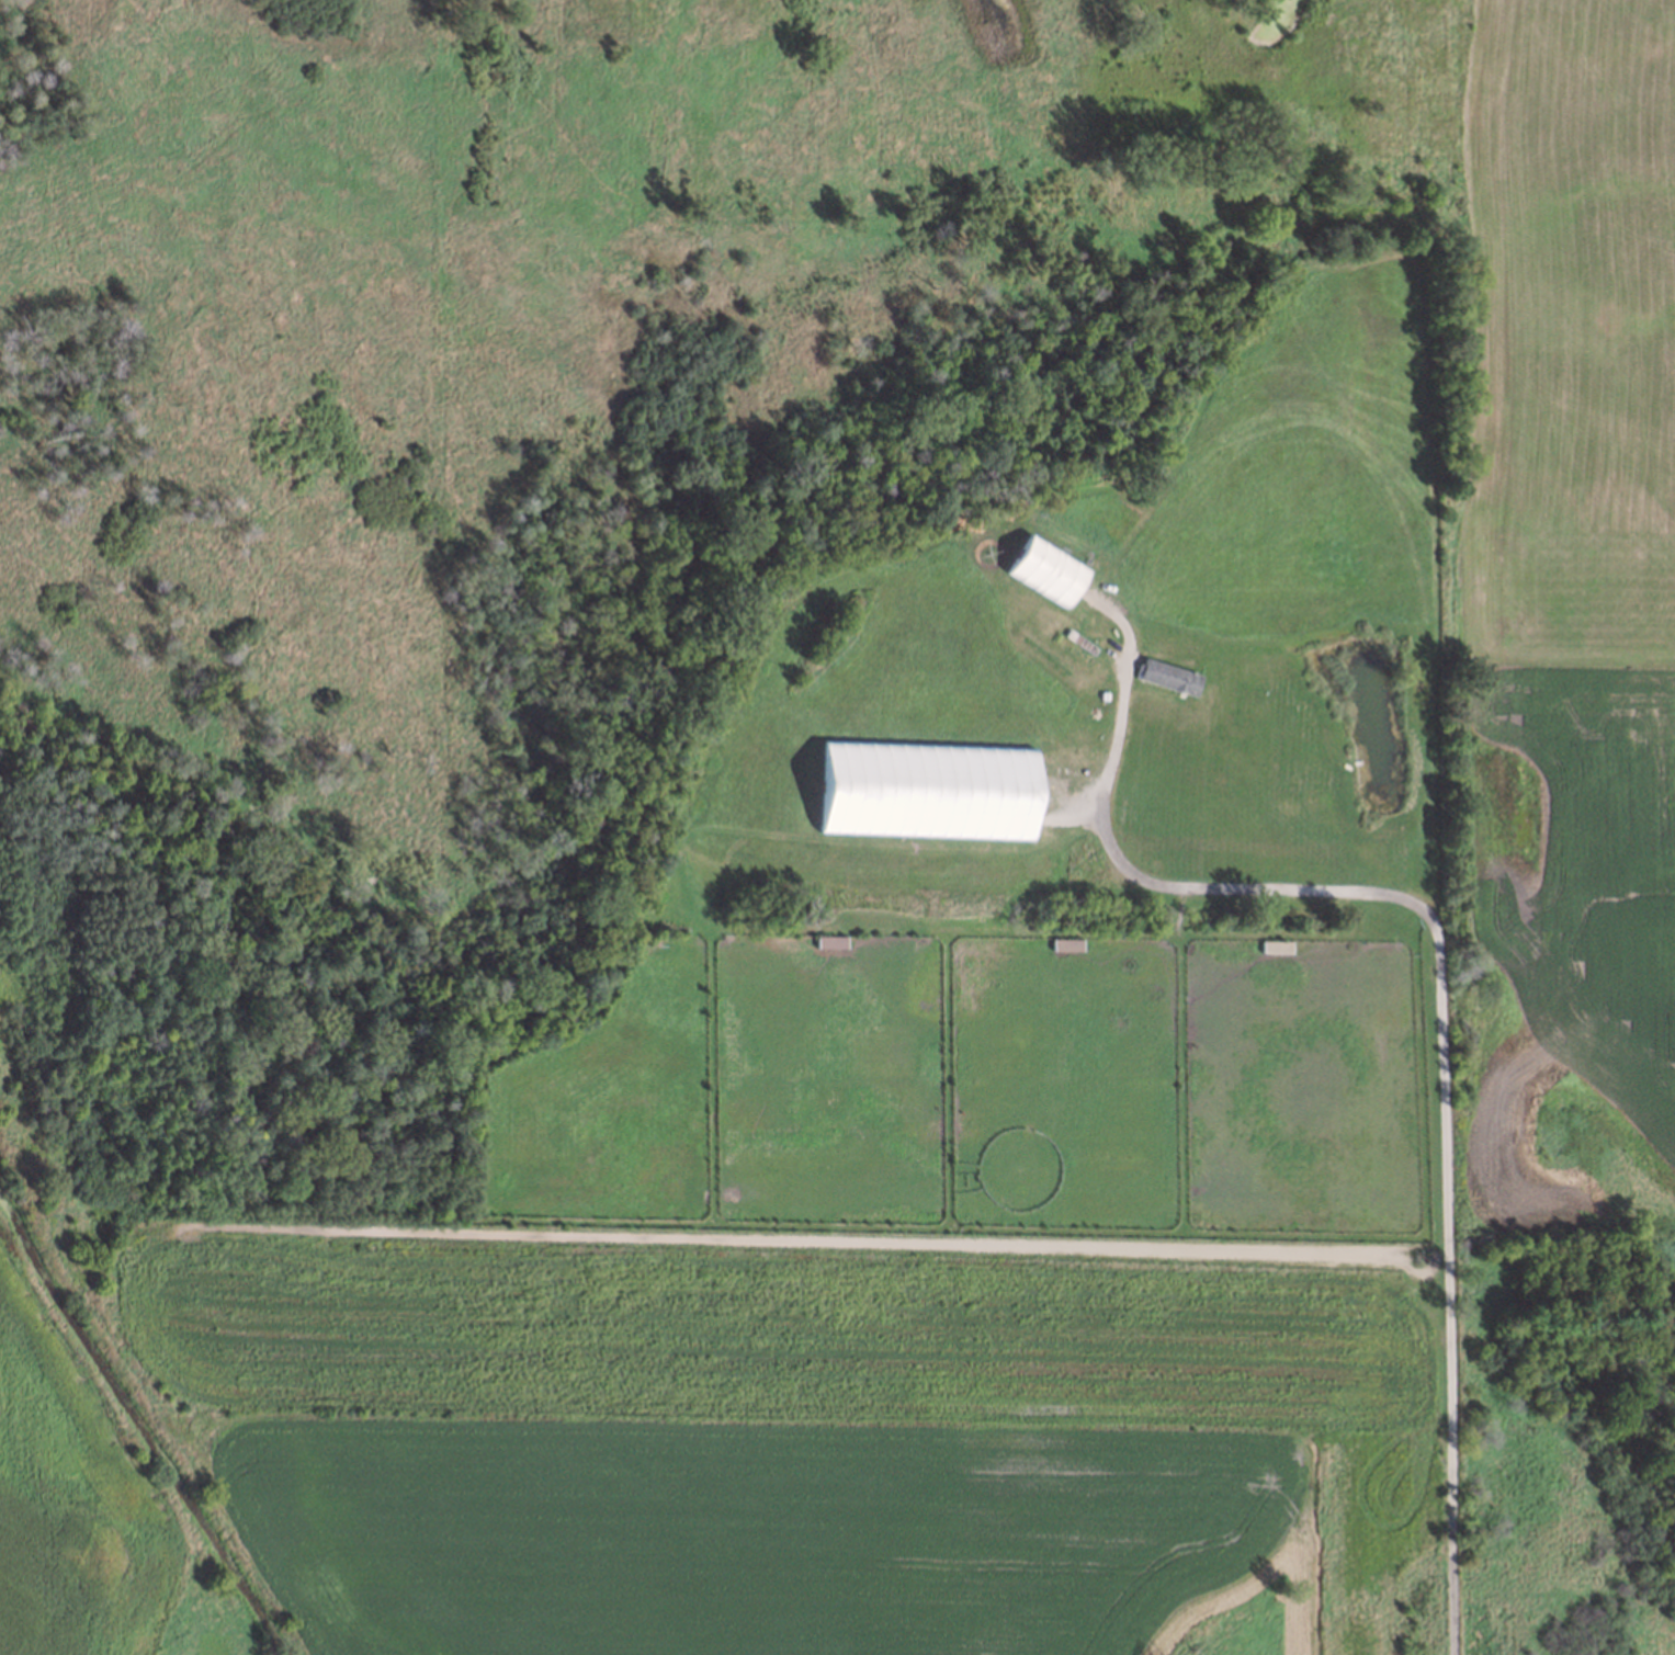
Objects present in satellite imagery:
building: (1042, 568)
building: (1164, 672)
building: (924, 787)
building: (828, 936)
building: (663, 938)
building: (1064, 939)
building: (830, 941)
building: (1274, 941)
building: (1068, 944)
building: (1277, 946)
road: (1441, 989)

